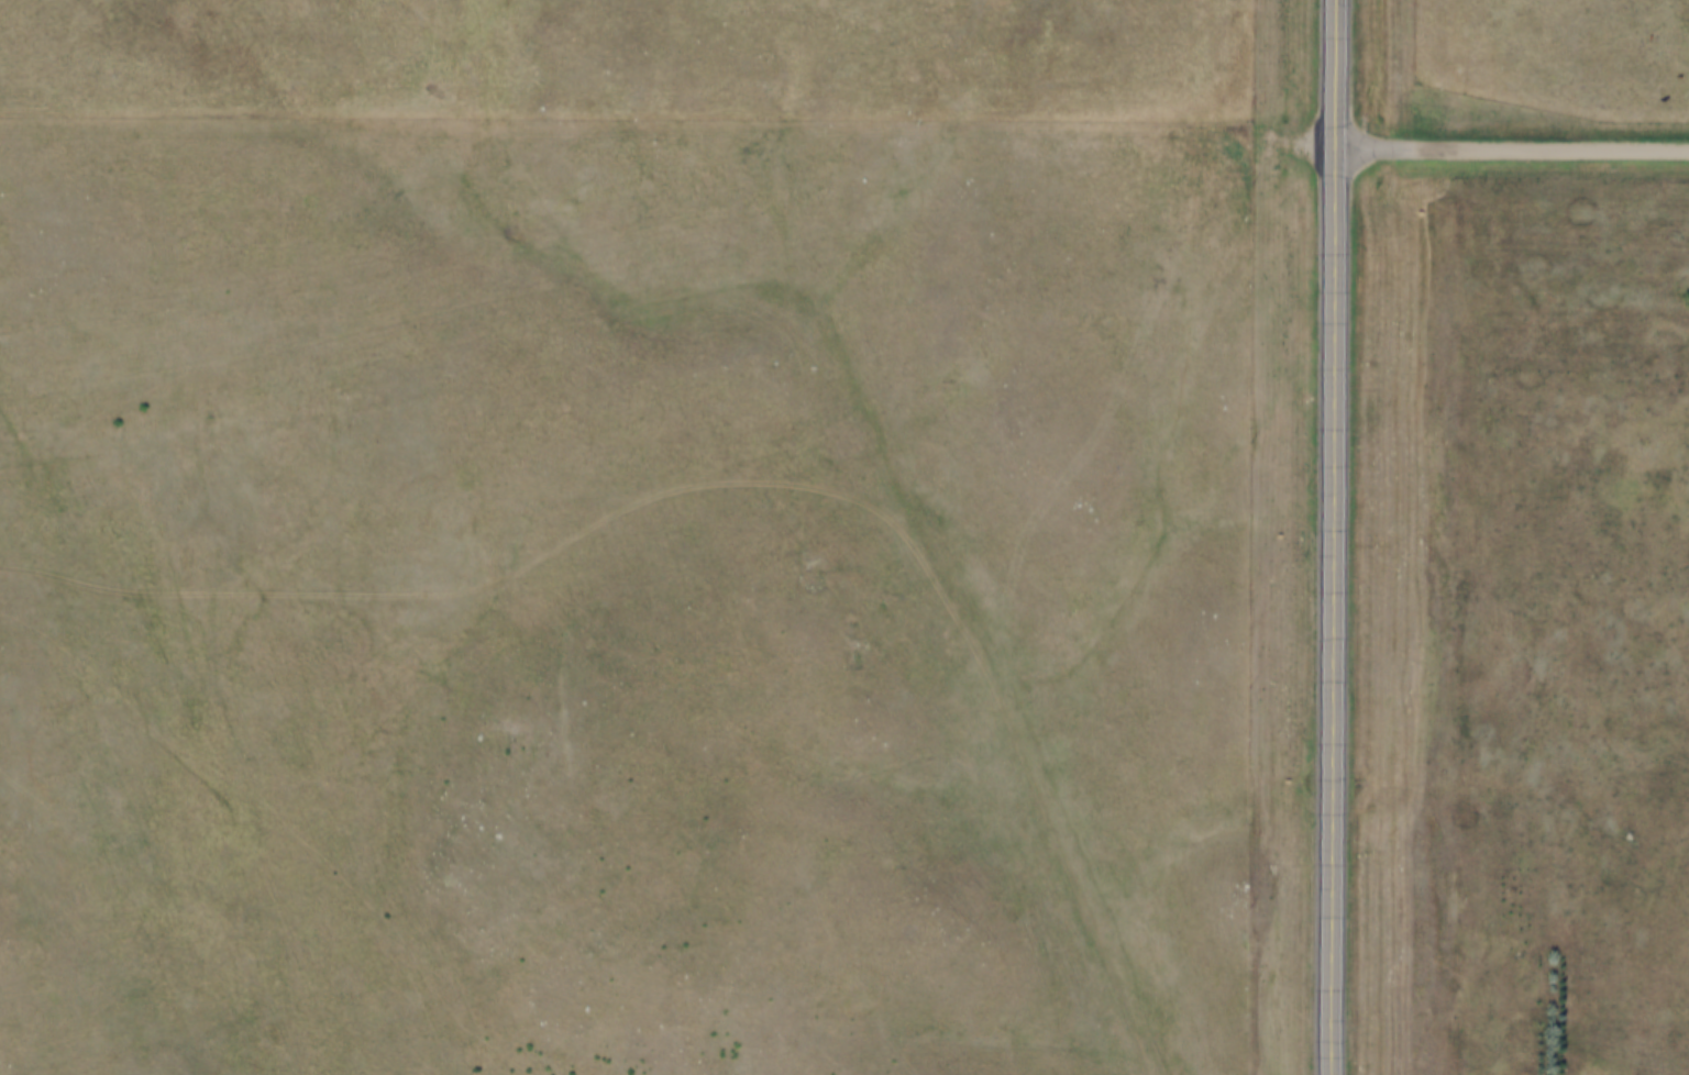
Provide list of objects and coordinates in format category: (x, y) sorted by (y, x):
road: (1514, 144)
road: (1336, 537)

